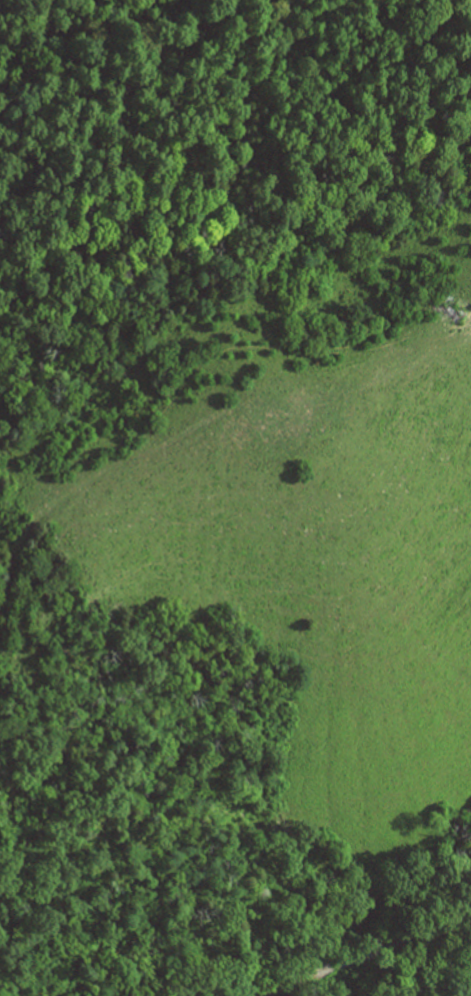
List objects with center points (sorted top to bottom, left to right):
building: (452, 313)
railway: (358, 951)

